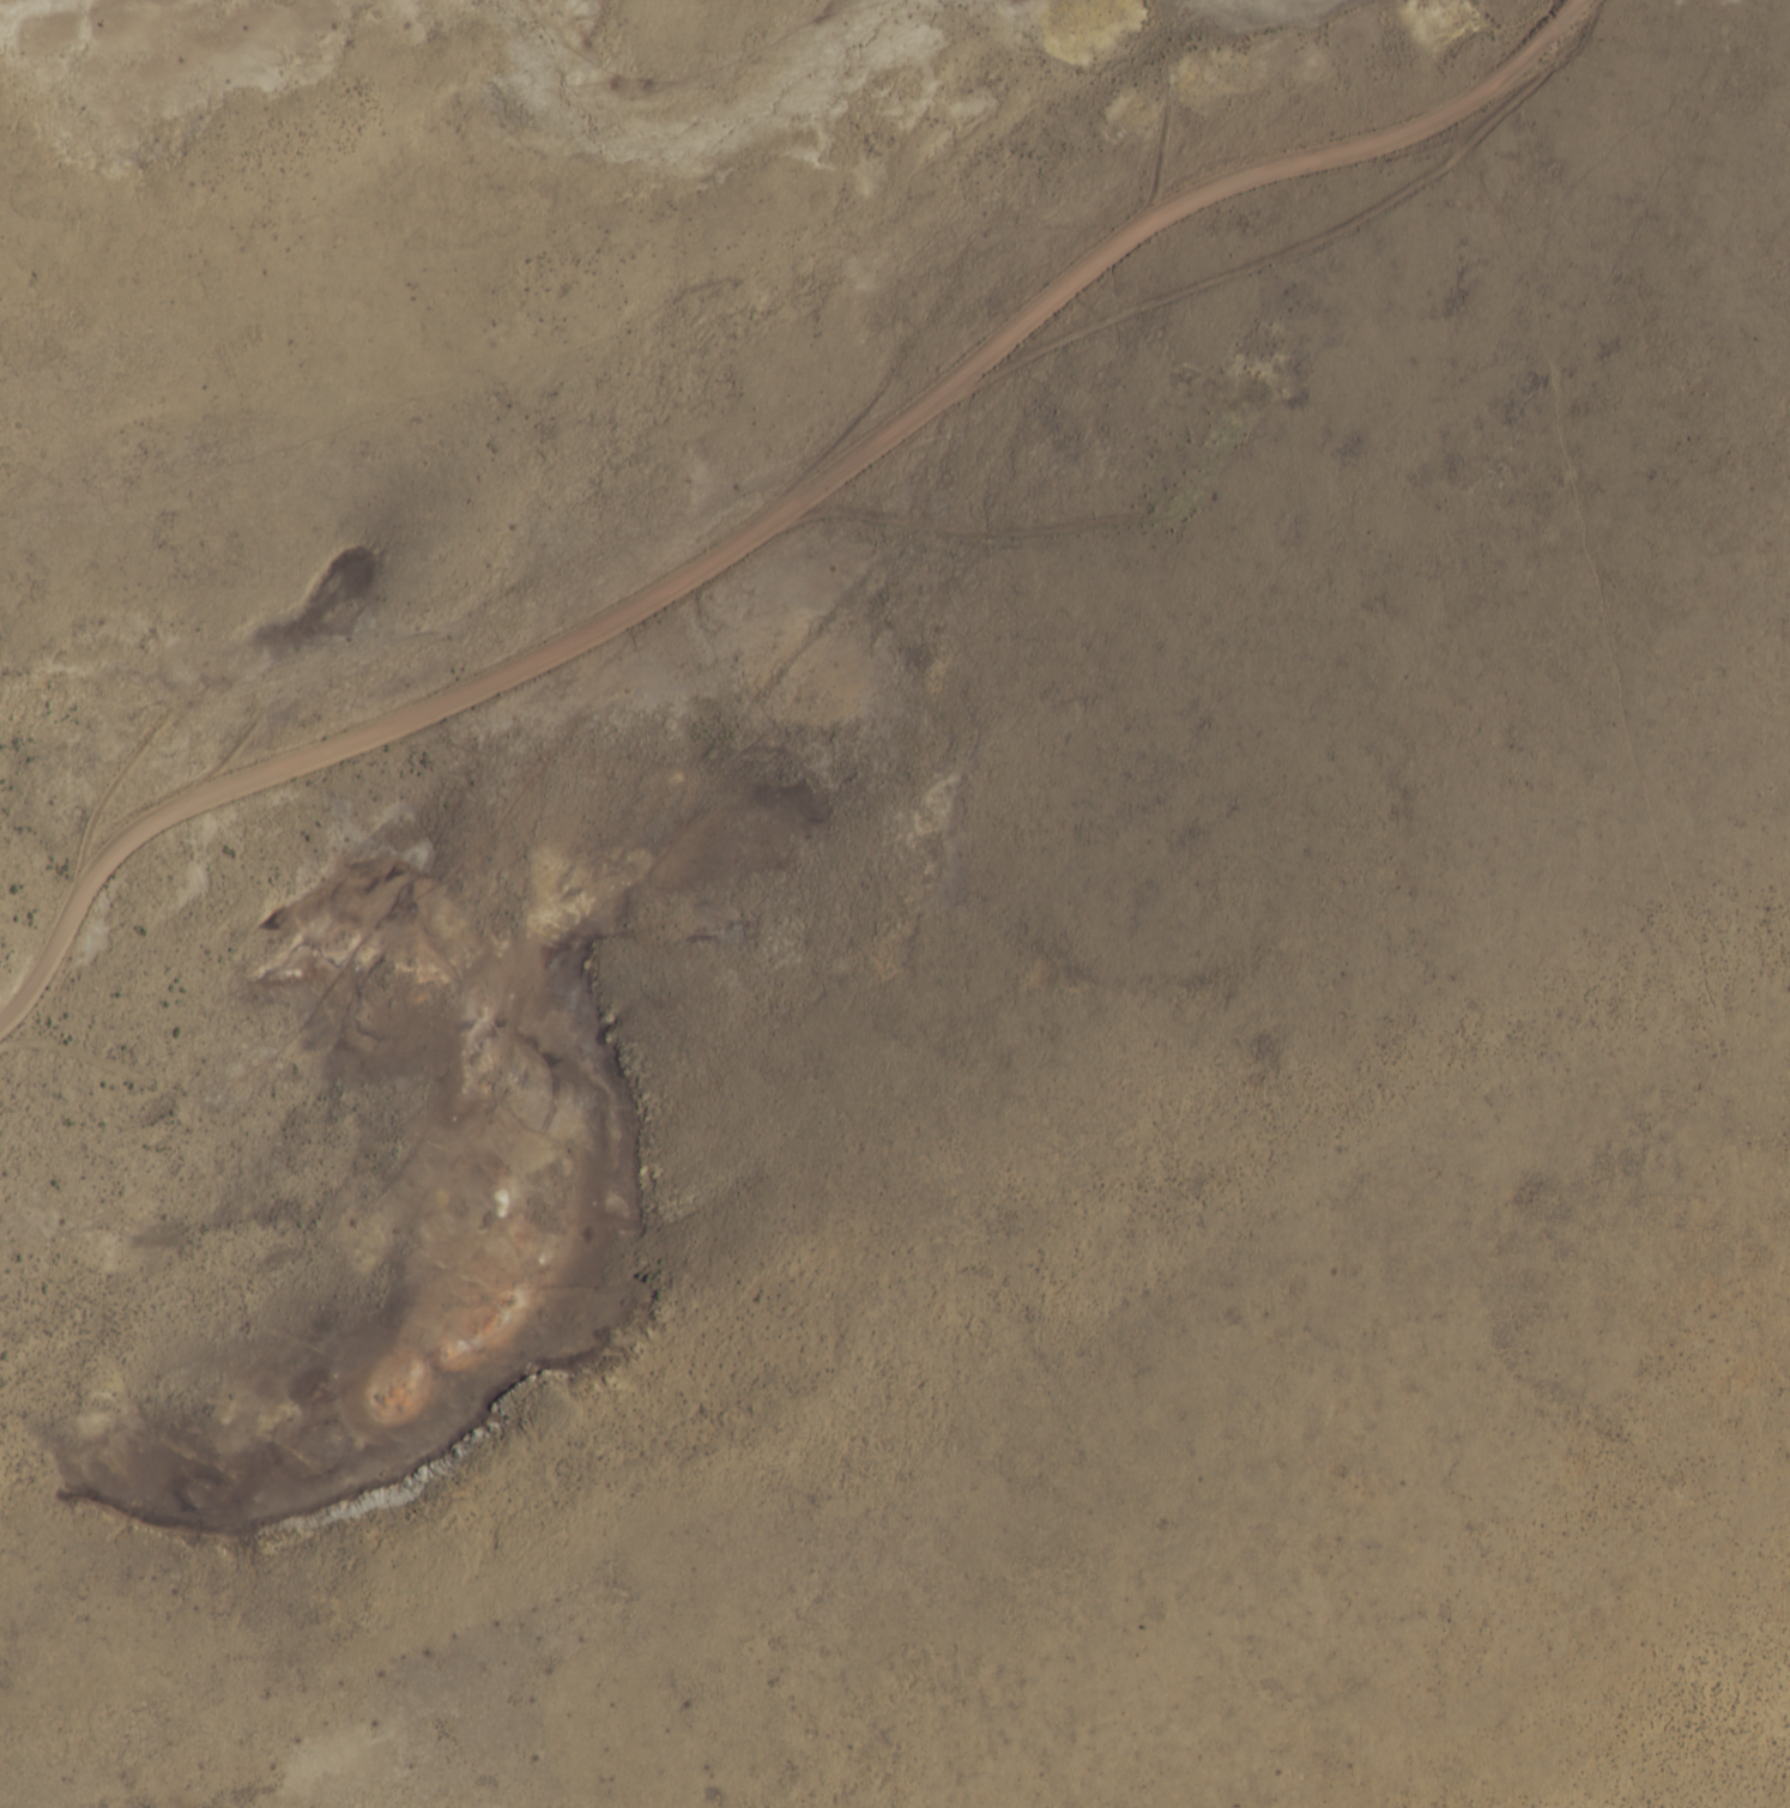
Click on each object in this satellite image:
road: (781, 512)

